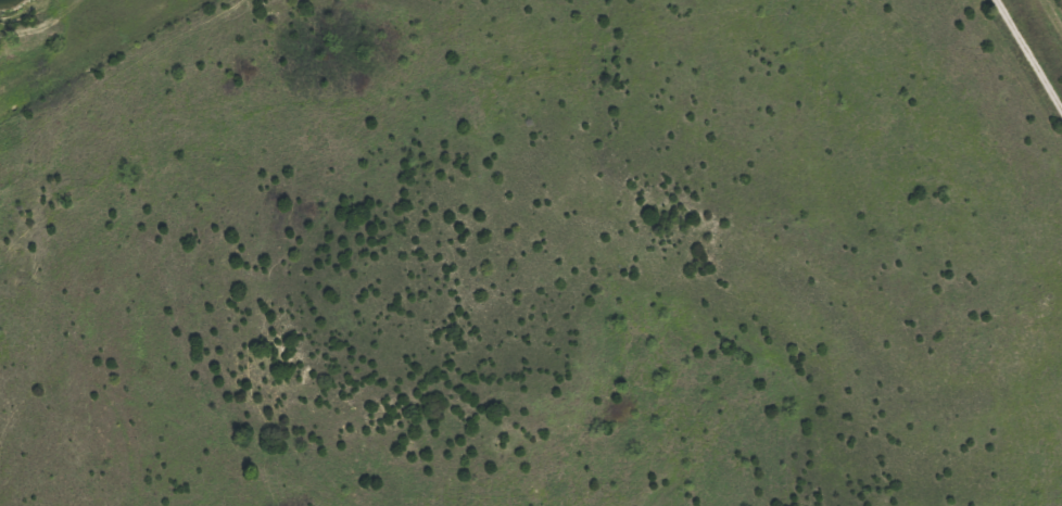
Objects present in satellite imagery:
road: (1026, 61)

